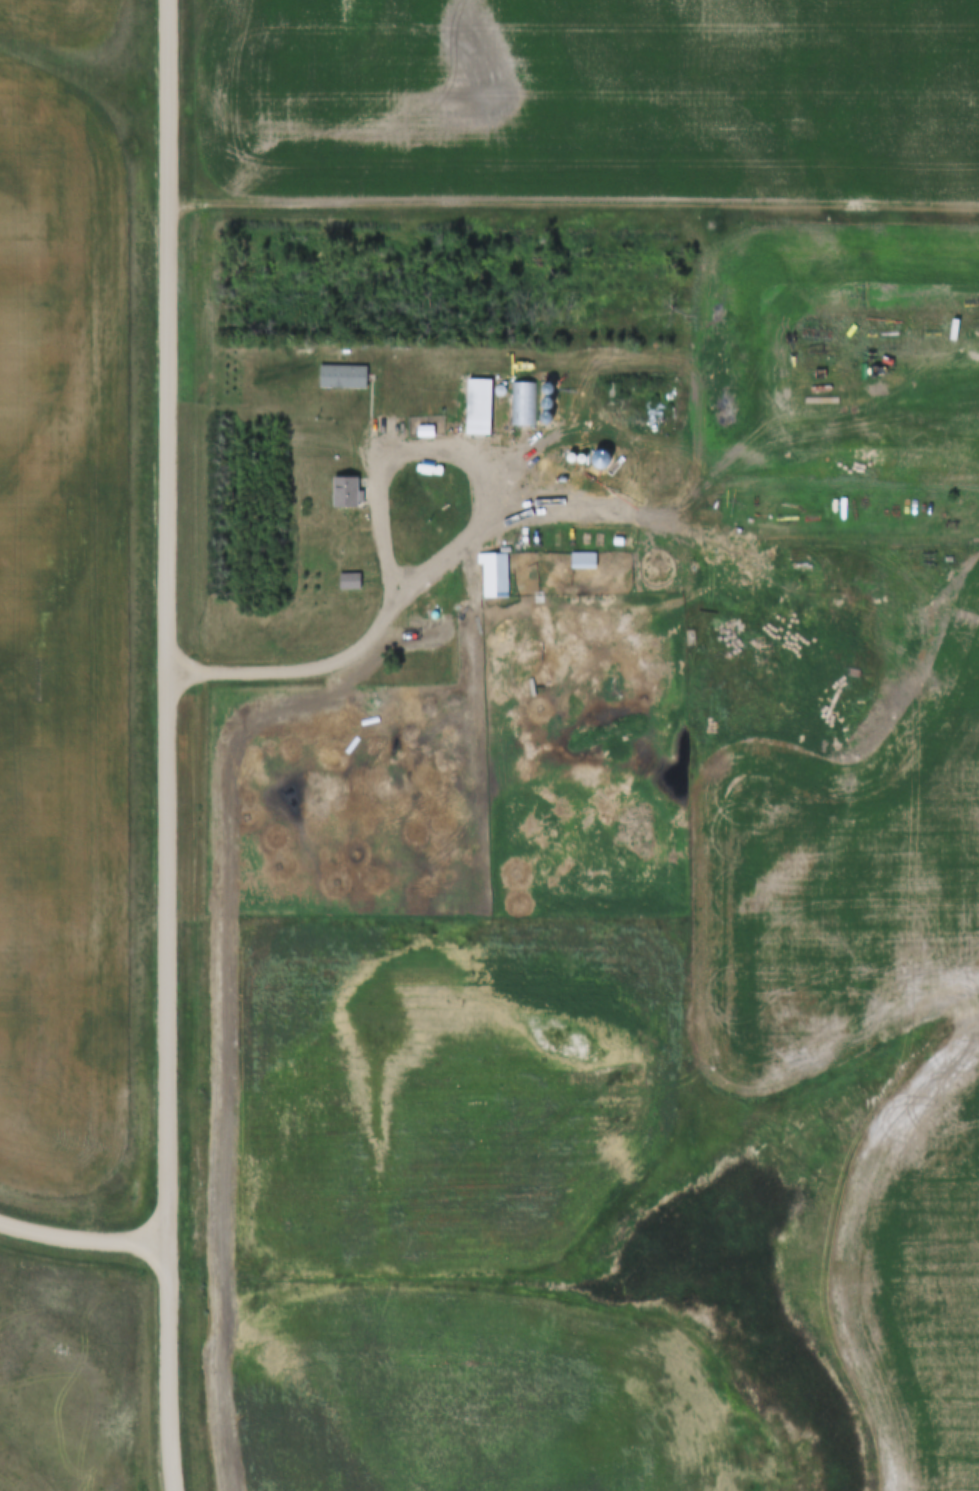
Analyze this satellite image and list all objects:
road: (575, 207)
building: (524, 403)
building: (481, 407)
building: (344, 458)
building: (349, 493)
road: (729, 522)
road: (454, 558)
building: (594, 561)
building: (496, 575)
building: (352, 582)
building: (415, 609)
road: (169, 745)
road: (83, 1241)

